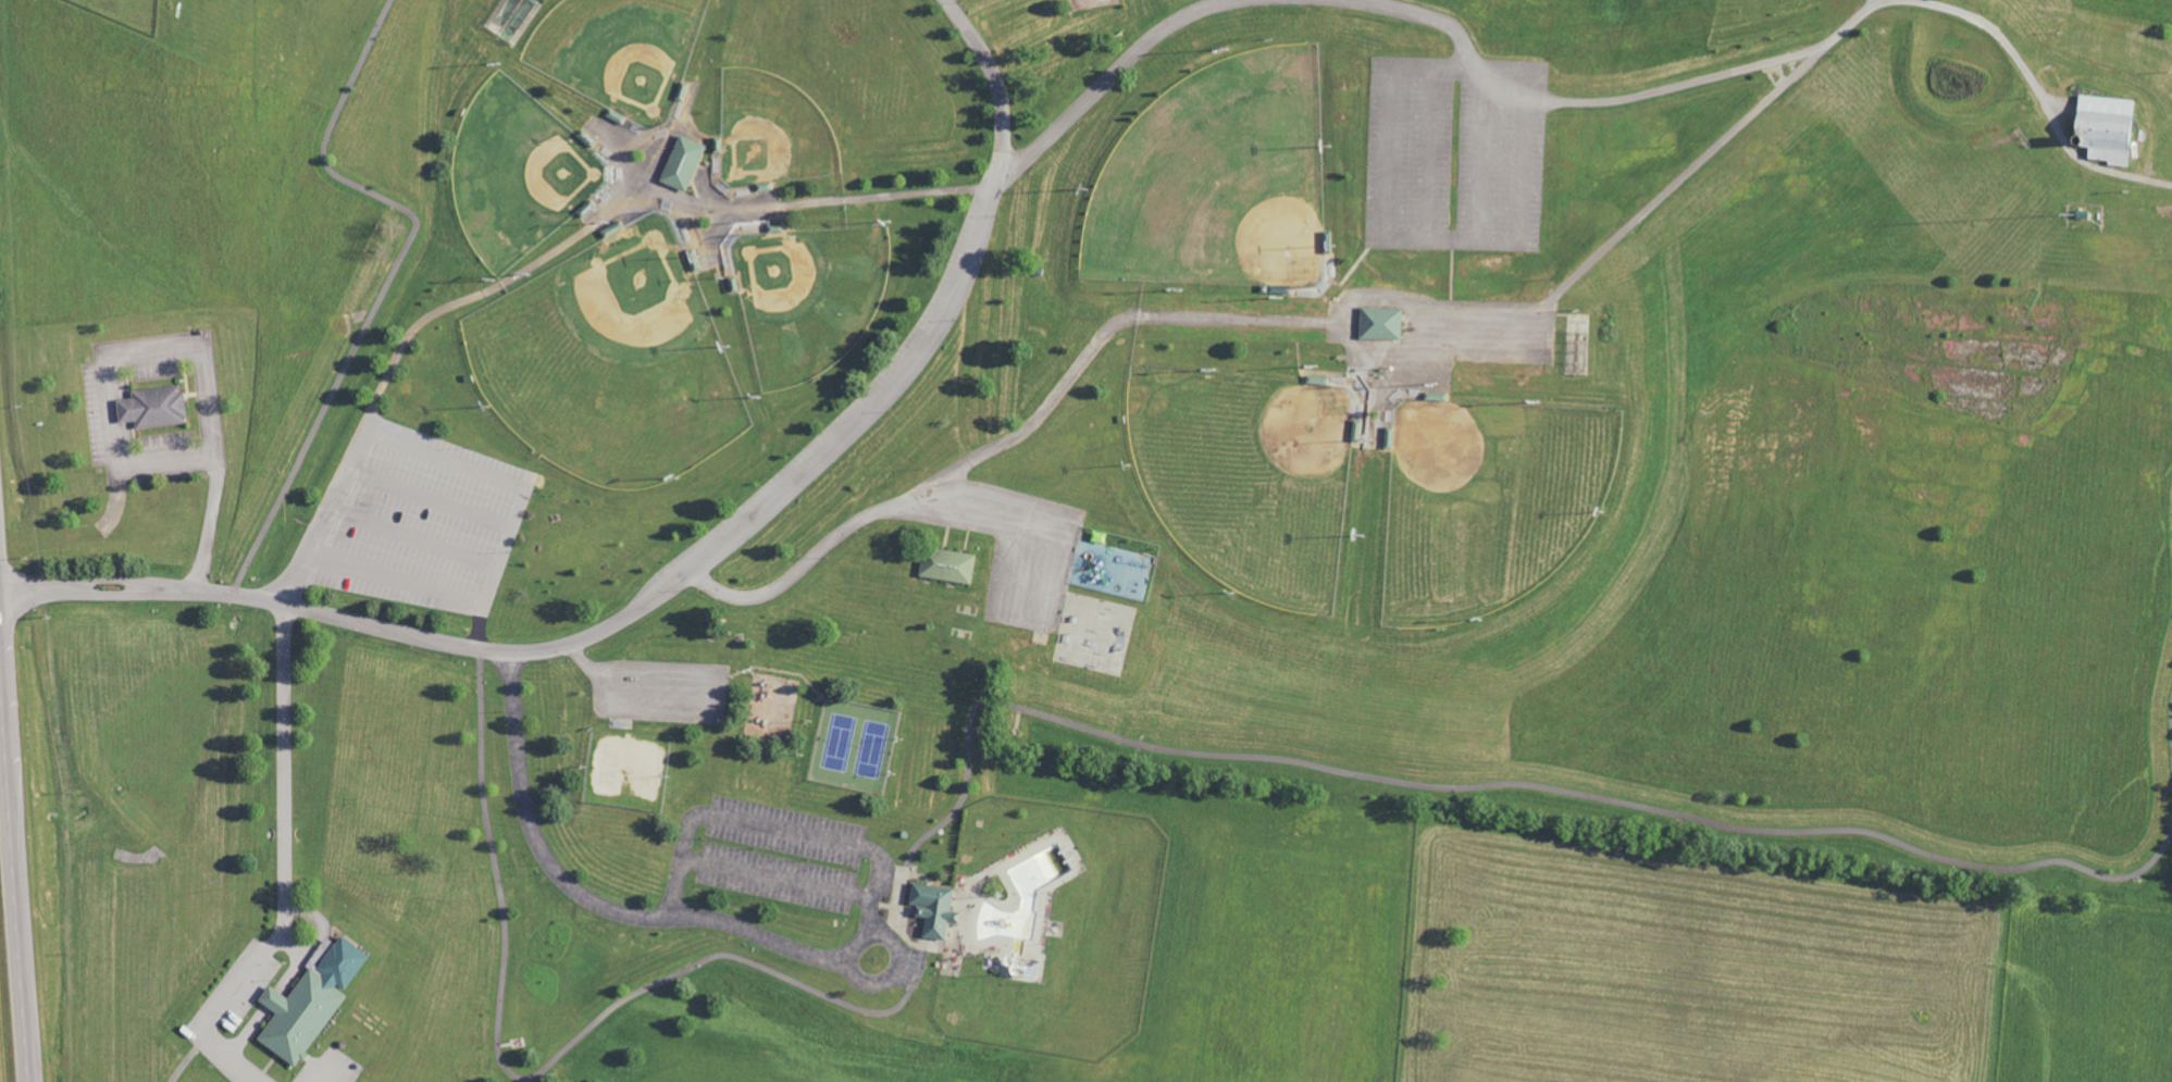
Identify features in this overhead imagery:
building: (2103, 127)
building: (681, 162)
road: (388, 276)
road: (1473, 318)
building: (1378, 323)
building: (160, 407)
park: (1128, 524)
building: (945, 564)
road: (679, 572)
road: (106, 590)
road: (994, 701)
road: (2170, 730)
road: (286, 760)
road: (778, 878)
road: (13, 891)
road: (884, 904)
building: (932, 908)
road: (826, 961)
building: (308, 1003)
road: (221, 1008)
road: (323, 1075)

